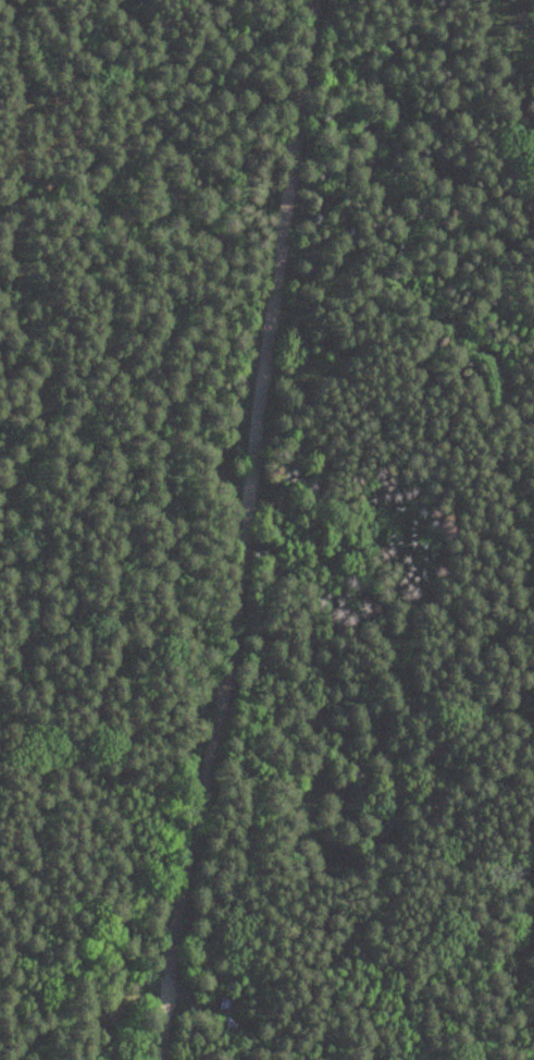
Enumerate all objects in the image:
road: (248, 423)
park: (266, 529)
road: (165, 951)

